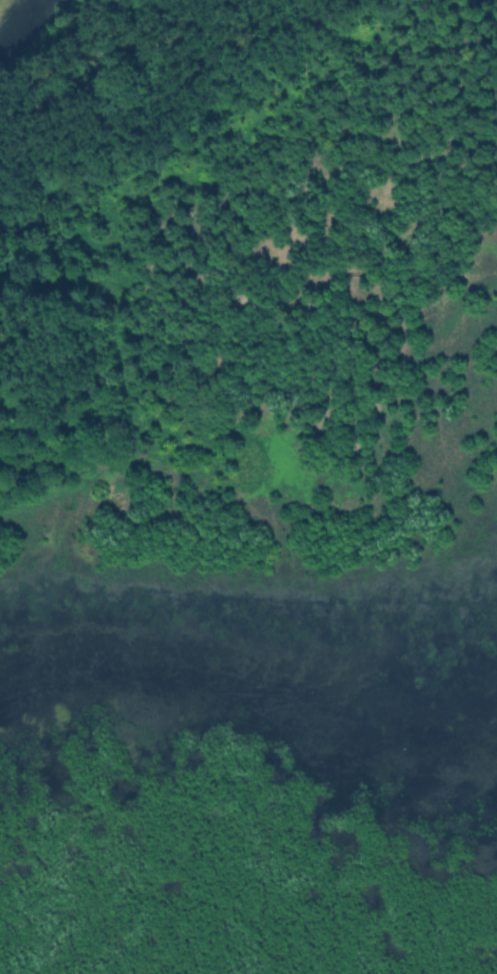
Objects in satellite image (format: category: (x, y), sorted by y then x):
road: (89, 75)
road: (71, 405)

